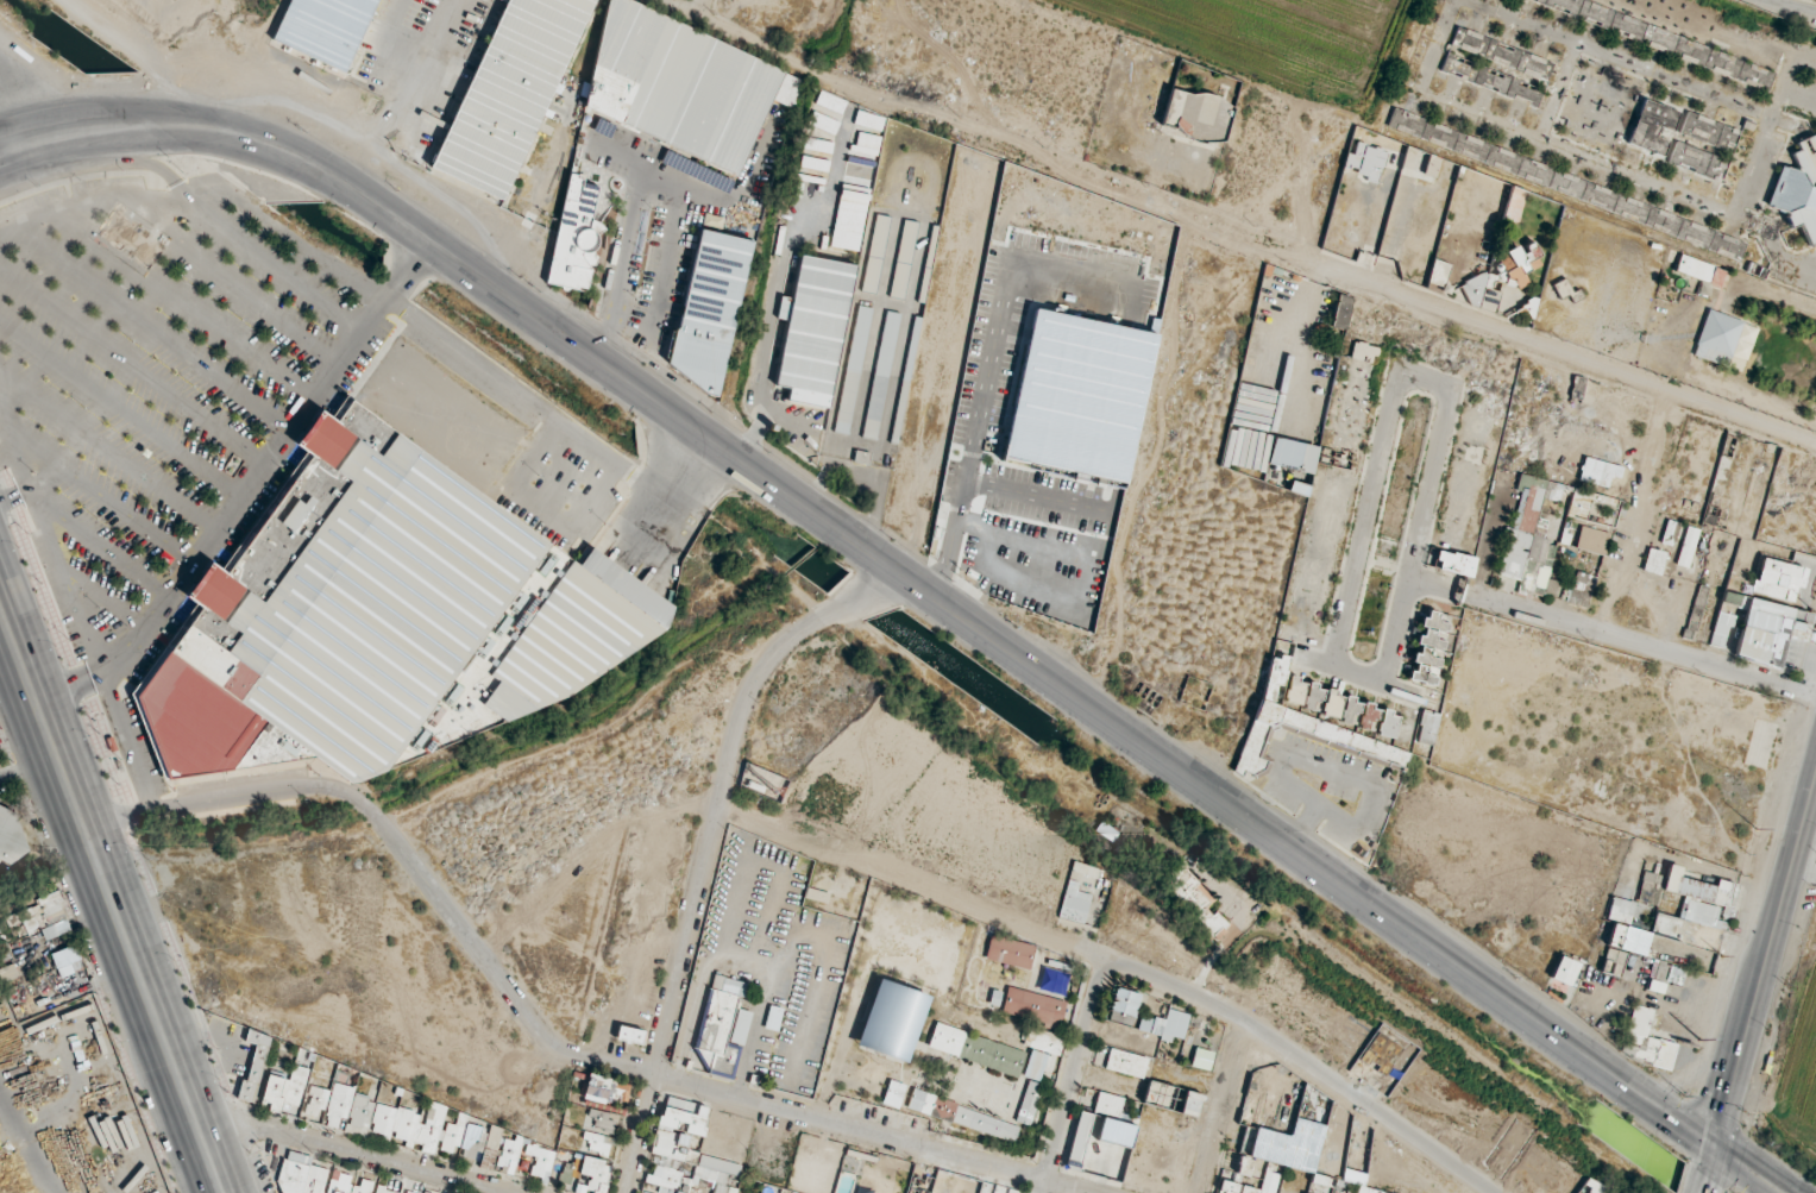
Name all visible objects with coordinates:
crop: (1264, 42)
gas station: (25, 79)
parking lot: (150, 365)

